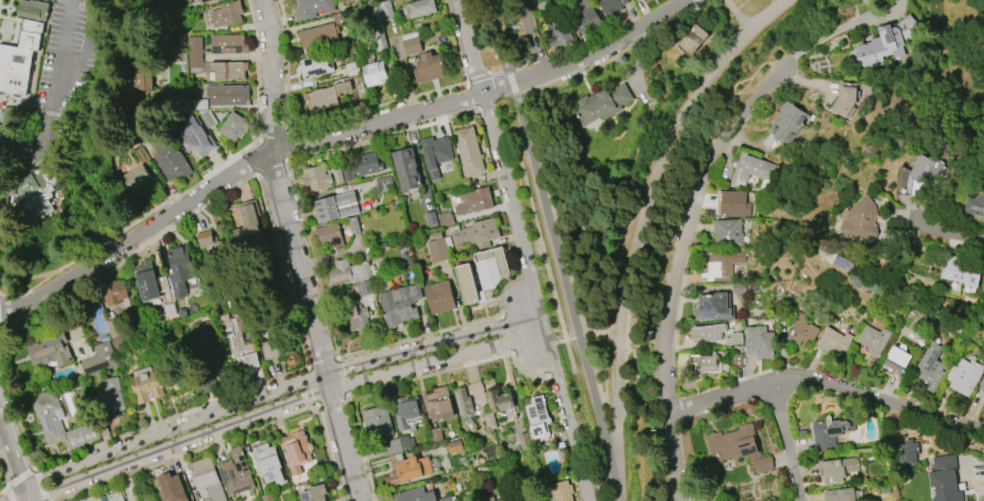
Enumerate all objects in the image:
building: (635, 0)
building: (639, 0)
building: (197, 1)
building: (611, 6)
building: (312, 8)
building: (32, 9)
building: (418, 9)
building: (384, 11)
road: (734, 14)
building: (225, 15)
building: (585, 18)
building: (529, 29)
building: (321, 33)
road: (831, 33)
road: (497, 34)
building: (558, 34)
road: (533, 35)
building: (693, 39)
building: (177, 41)
road: (454, 41)
building: (411, 43)
building: (886, 43)
building: (228, 44)
road: (470, 45)
building: (194, 47)
road: (585, 52)
building: (20, 58)
road: (78, 62)
road: (287, 65)
building: (316, 66)
building: (430, 66)
building: (195, 67)
building: (352, 68)
building: (141, 69)
road: (258, 70)
building: (226, 71)
building: (373, 71)
parking lot: (66, 75)
road: (57, 76)
road: (485, 76)
road: (509, 81)
building: (359, 90)
road: (473, 95)
building: (324, 96)
building: (223, 97)
road: (18, 98)
road: (496, 99)
building: (844, 99)
building: (605, 102)
road: (375, 106)
road: (48, 112)
building: (786, 123)
building: (234, 127)
building: (193, 134)
road: (384, 136)
building: (11, 137)
road: (273, 137)
road: (287, 147)
road: (501, 151)
road: (270, 152)
building: (468, 152)
building: (435, 154)
building: (167, 155)
road: (257, 158)
building: (360, 166)
road: (270, 167)
building: (406, 168)
building: (751, 168)
road: (548, 170)
road: (20, 172)
building: (337, 176)
building: (136, 178)
building: (315, 178)
building: (922, 178)
road: (111, 181)
building: (384, 183)
road: (503, 192)
building: (31, 197)
building: (473, 201)
building: (734, 204)
building: (975, 205)
building: (336, 206)
building: (430, 218)
building: (445, 219)
building: (861, 220)
building: (246, 224)
road: (172, 225)
building: (352, 225)
road: (637, 226)
road: (131, 227)
building: (476, 232)
road: (947, 232)
building: (728, 233)
building: (328, 236)
building: (437, 250)
road: (655, 250)
road: (296, 252)
building: (215, 254)
road: (335, 255)
road: (313, 259)
building: (720, 266)
building: (180, 269)
road: (674, 269)
building: (489, 270)
road: (86, 272)
road: (283, 272)
building: (961, 272)
building: (347, 273)
road: (613, 274)
road: (26, 275)
road: (529, 278)
building: (467, 284)
building: (156, 289)
building: (117, 291)
road: (505, 291)
road: (43, 294)
road: (537, 295)
building: (439, 297)
road: (567, 297)
building: (399, 305)
building: (713, 307)
building: (354, 315)
building: (100, 319)
building: (802, 332)
road: (602, 333)
building: (707, 333)
road: (0, 334)
road: (507, 335)
road: (422, 337)
road: (0, 338)
building: (733, 338)
building: (205, 340)
building: (237, 340)
building: (834, 340)
building: (873, 340)
road: (563, 341)
building: (758, 342)
building: (276, 348)
building: (49, 349)
road: (531, 349)
building: (99, 360)
building: (895, 360)
building: (737, 361)
road: (325, 363)
building: (710, 363)
building: (929, 367)
road: (525, 373)
road: (431, 376)
road: (553, 376)
building: (964, 376)
road: (345, 378)
road: (639, 381)
building: (146, 384)
building: (981, 384)
road: (825, 385)
road: (314, 387)
road: (279, 392)
building: (109, 395)
road: (334, 401)
building: (462, 401)
road: (15, 403)
building: (438, 404)
road: (284, 406)
building: (498, 407)
building: (407, 413)
road: (173, 418)
building: (538, 419)
building: (377, 422)
building: (63, 423)
building: (469, 423)
building: (801, 432)
building: (830, 432)
road: (786, 441)
building: (732, 443)
building: (390, 447)
building: (454, 447)
road: (12, 449)
building: (296, 450)
road: (362, 450)
building: (909, 451)
road: (189, 453)
road: (330, 453)
building: (269, 464)
building: (762, 464)
building: (402, 469)
building: (835, 470)
building: (235, 474)
road: (3, 477)
road: (22, 478)
building: (206, 478)
building: (943, 479)
road: (42, 484)
building: (172, 487)
road: (601, 489)
road: (3, 491)
building: (561, 491)
road: (26, 492)
building: (314, 493)
road: (9, 494)
building: (843, 494)
building: (414, 495)
building: (106, 496)
building: (267, 497)
road: (25, 498)
road: (28, 498)
building: (502, 500)
building: (538, 500)

